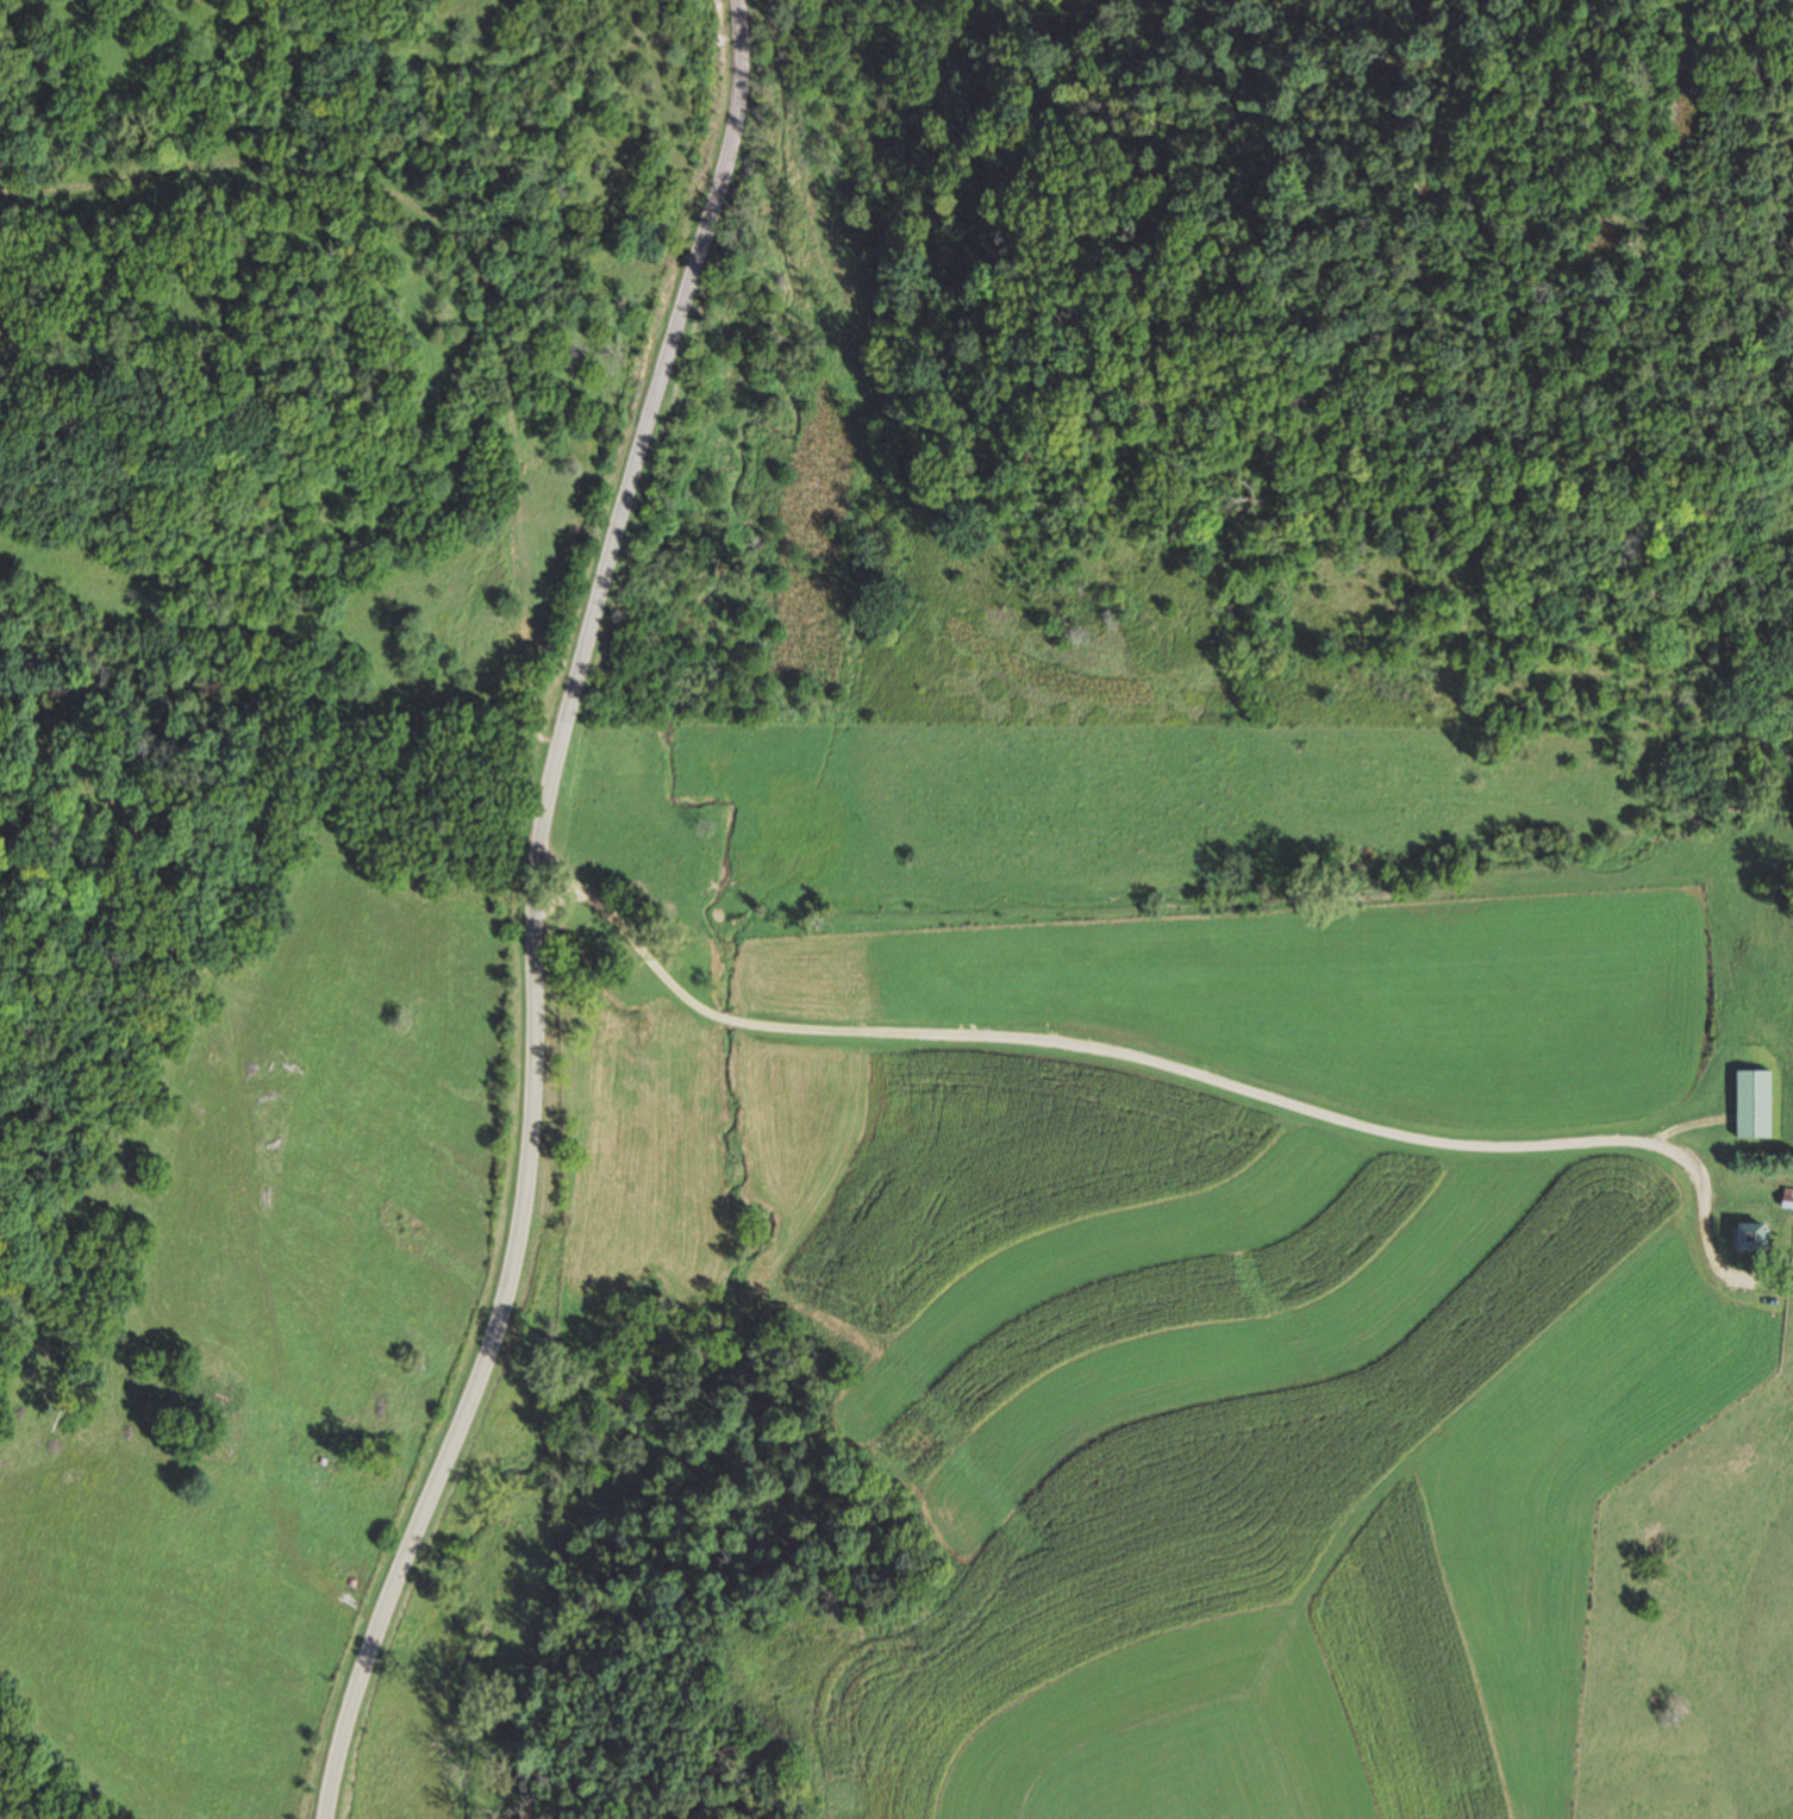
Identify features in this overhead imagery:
road: (530, 915)
road: (1063, 1038)
building: (1751, 1104)
road: (1700, 1232)
building: (1747, 1237)

